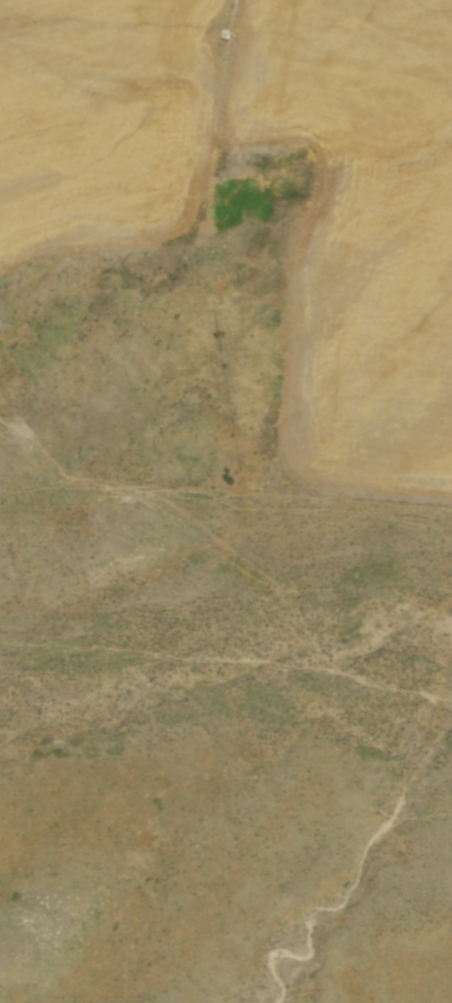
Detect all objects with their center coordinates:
crop: (367, 253)

